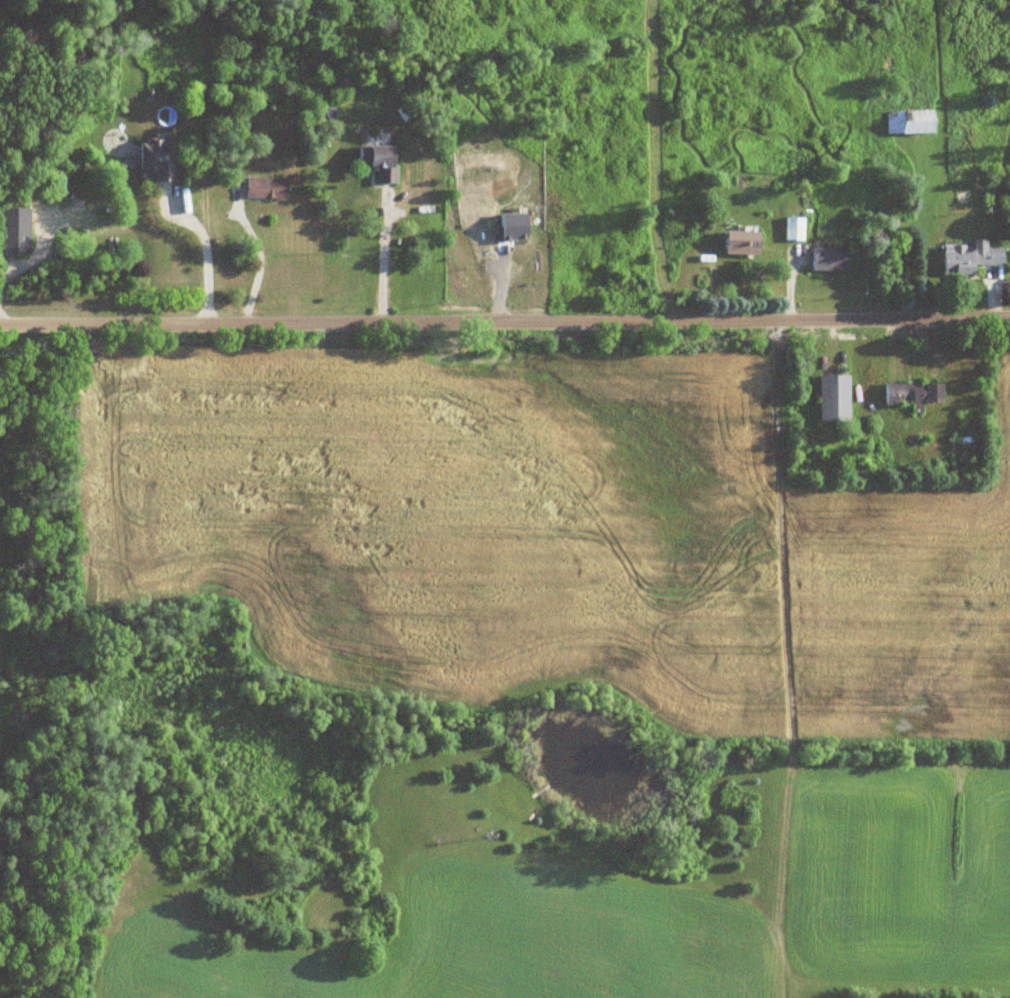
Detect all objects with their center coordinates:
building: (906, 122)
building: (154, 160)
building: (375, 162)
building: (56, 185)
building: (263, 189)
building: (792, 229)
building: (15, 230)
building: (737, 243)
road: (203, 256)
road: (378, 257)
building: (826, 260)
building: (966, 260)
road: (260, 265)
road: (504, 320)
building: (909, 395)
building: (830, 399)
crop: (467, 942)

